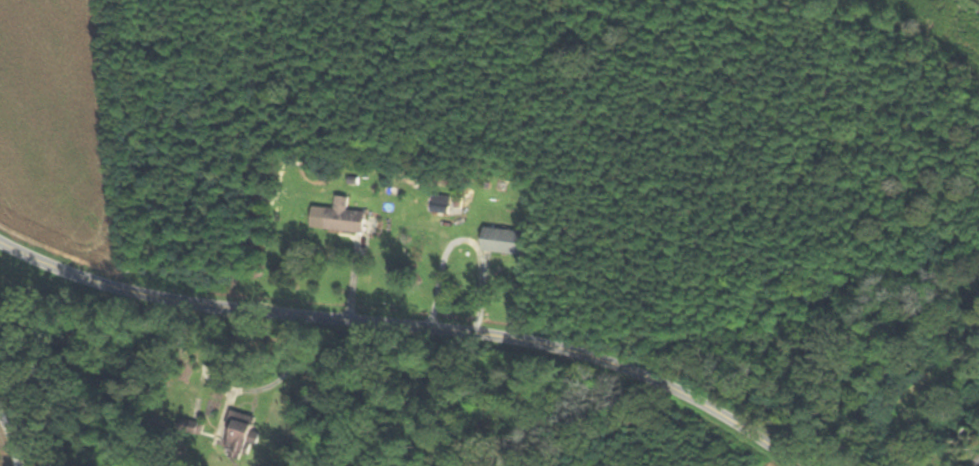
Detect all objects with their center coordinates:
building: (347, 217)
building: (508, 242)
road: (407, 324)
building: (242, 433)
road: (15, 439)
building: (956, 465)

